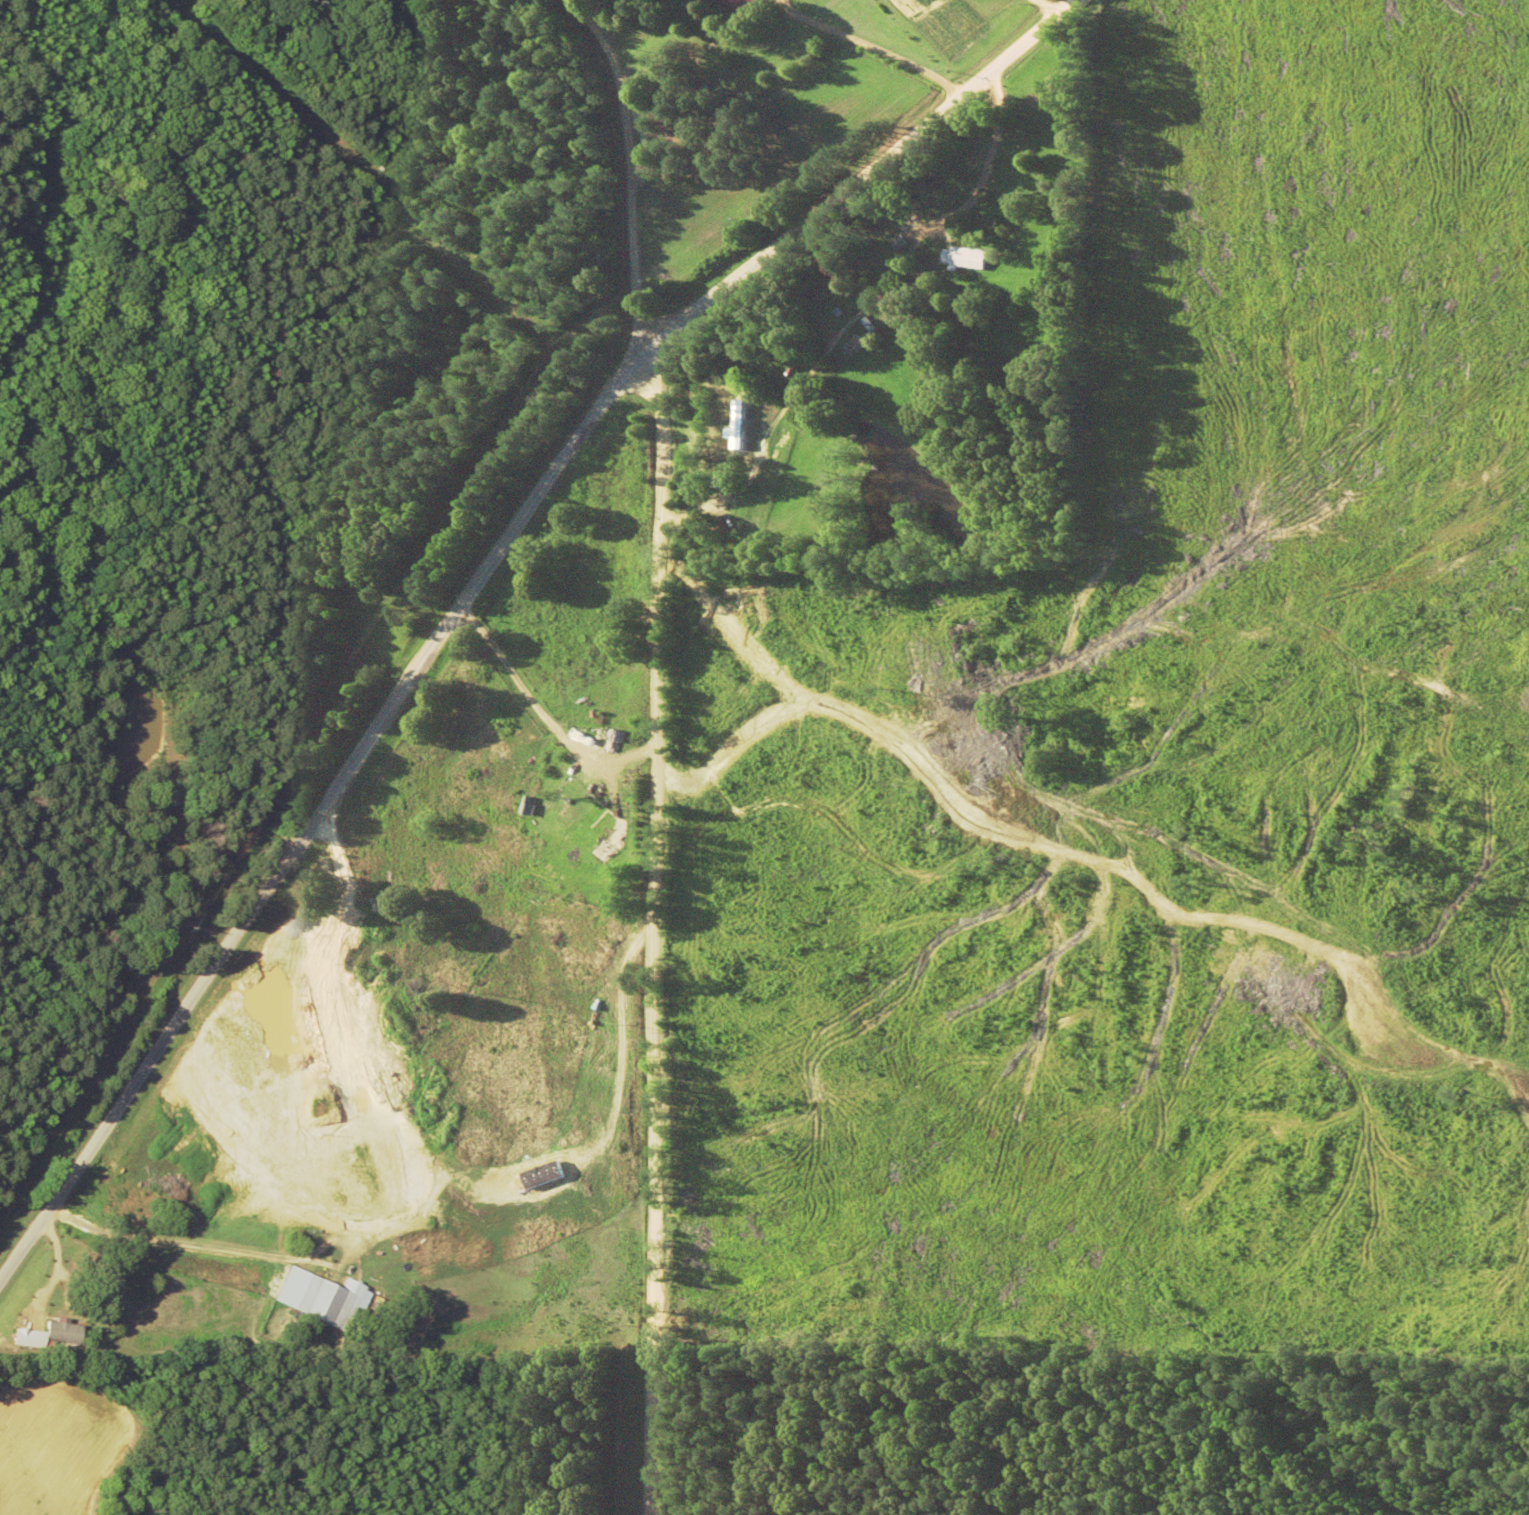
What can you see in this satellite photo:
building: (739, 4)
road: (829, 177)
building: (963, 257)
building: (736, 417)
road: (649, 746)
road: (315, 788)
building: (178, 792)
building: (157, 843)
building: (322, 1297)

